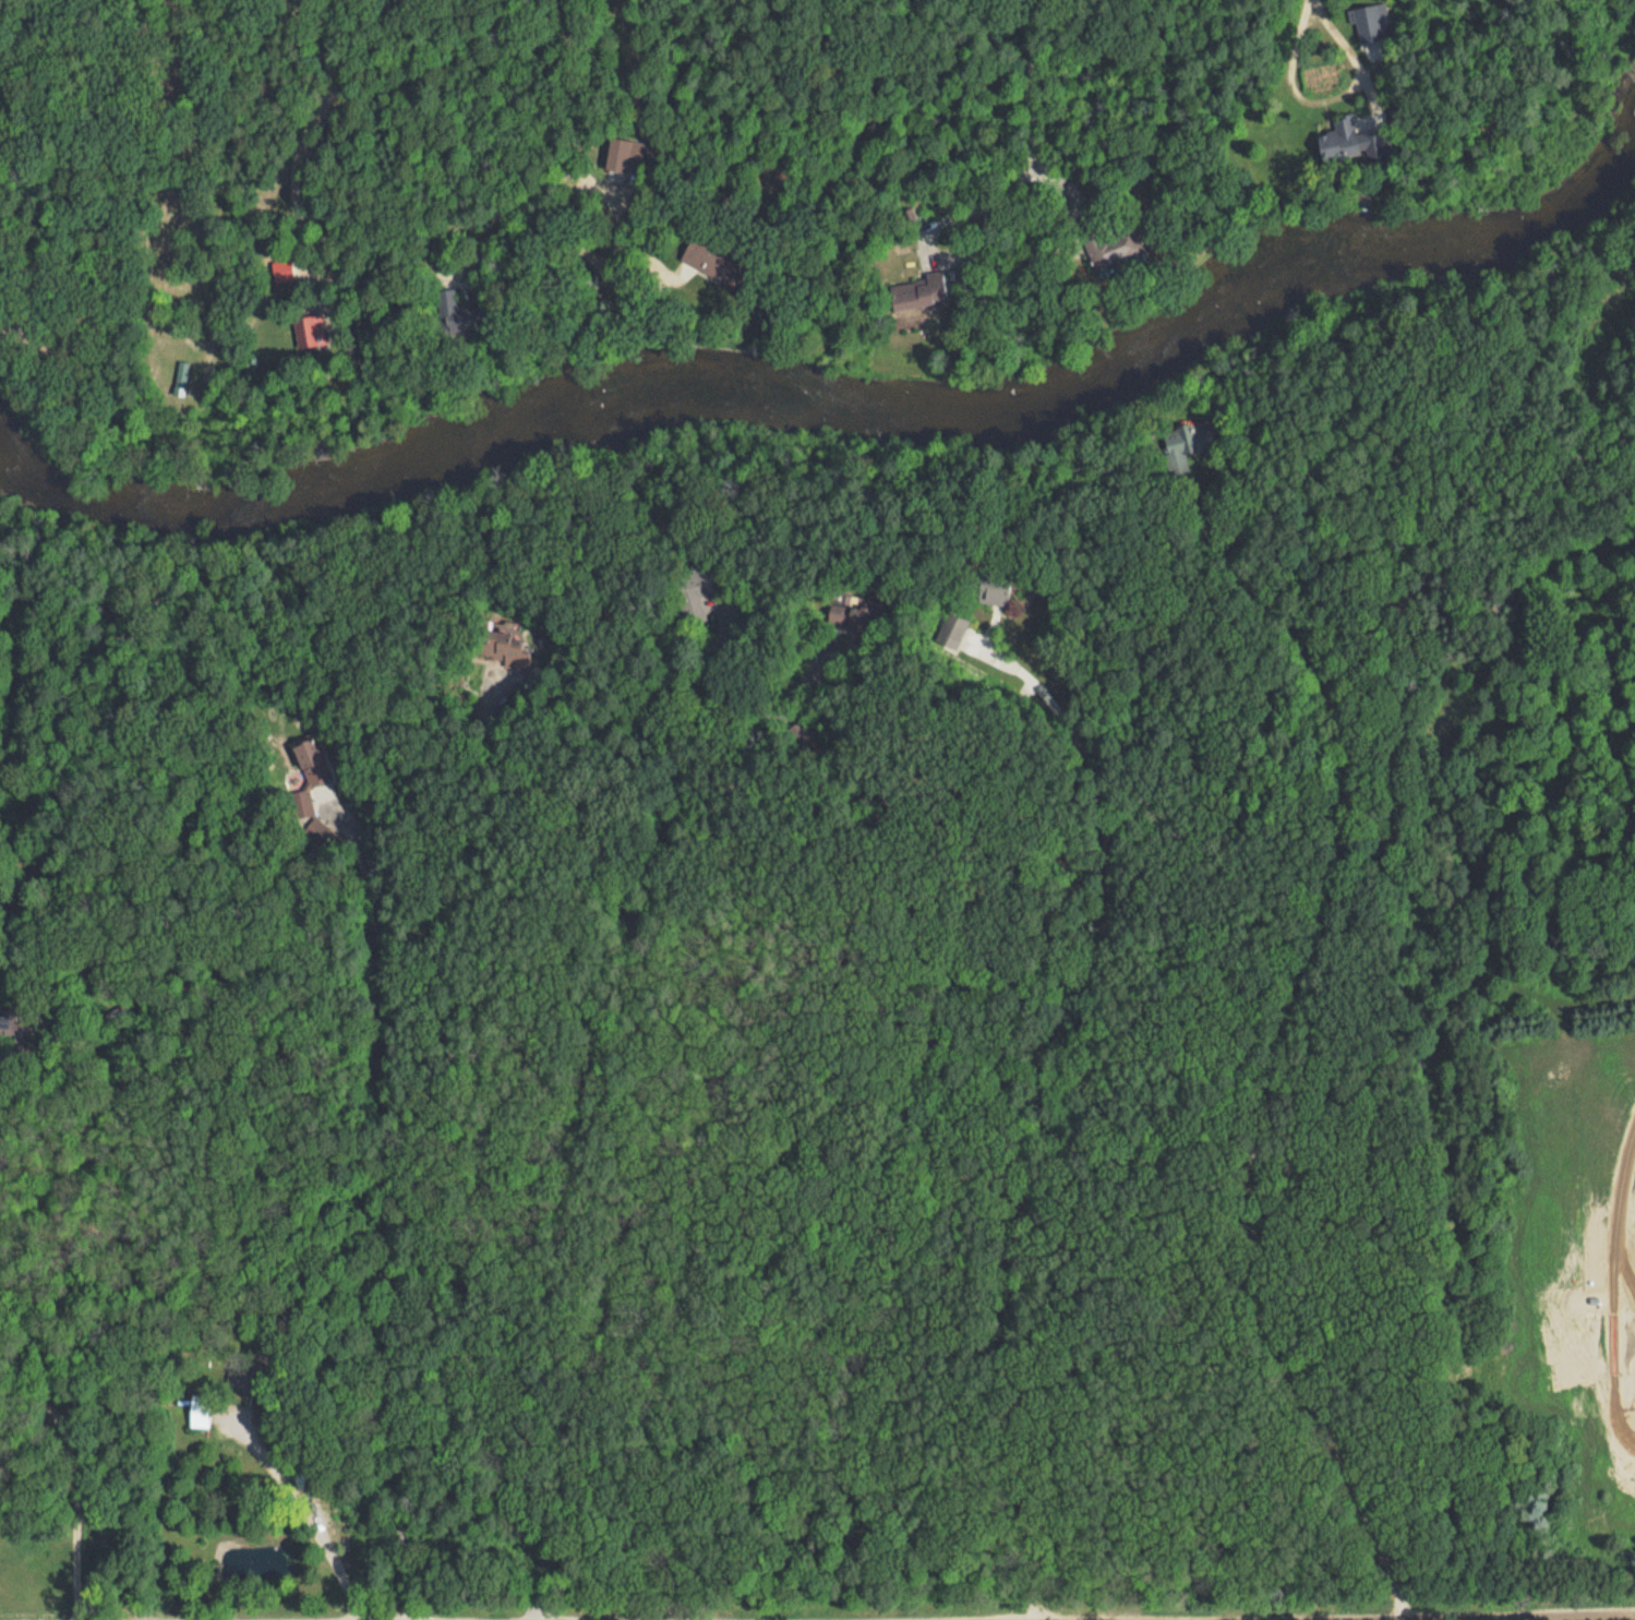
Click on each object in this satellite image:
building: (1375, 22)
road: (334, 87)
road: (1318, 96)
road: (1032, 117)
building: (1338, 144)
building: (623, 154)
road: (636, 172)
building: (1107, 247)
road: (959, 252)
road: (659, 256)
building: (281, 271)
building: (918, 295)
building: (311, 332)
river: (833, 398)
building: (1180, 448)
building: (986, 588)
building: (689, 596)
building: (951, 632)
building: (502, 647)
road: (698, 693)
building: (306, 753)
road: (563, 794)
building: (300, 804)
building: (313, 830)
road: (1279, 1066)
road: (584, 1115)
road: (393, 1205)
building: (199, 1413)
road: (1302, 1617)

